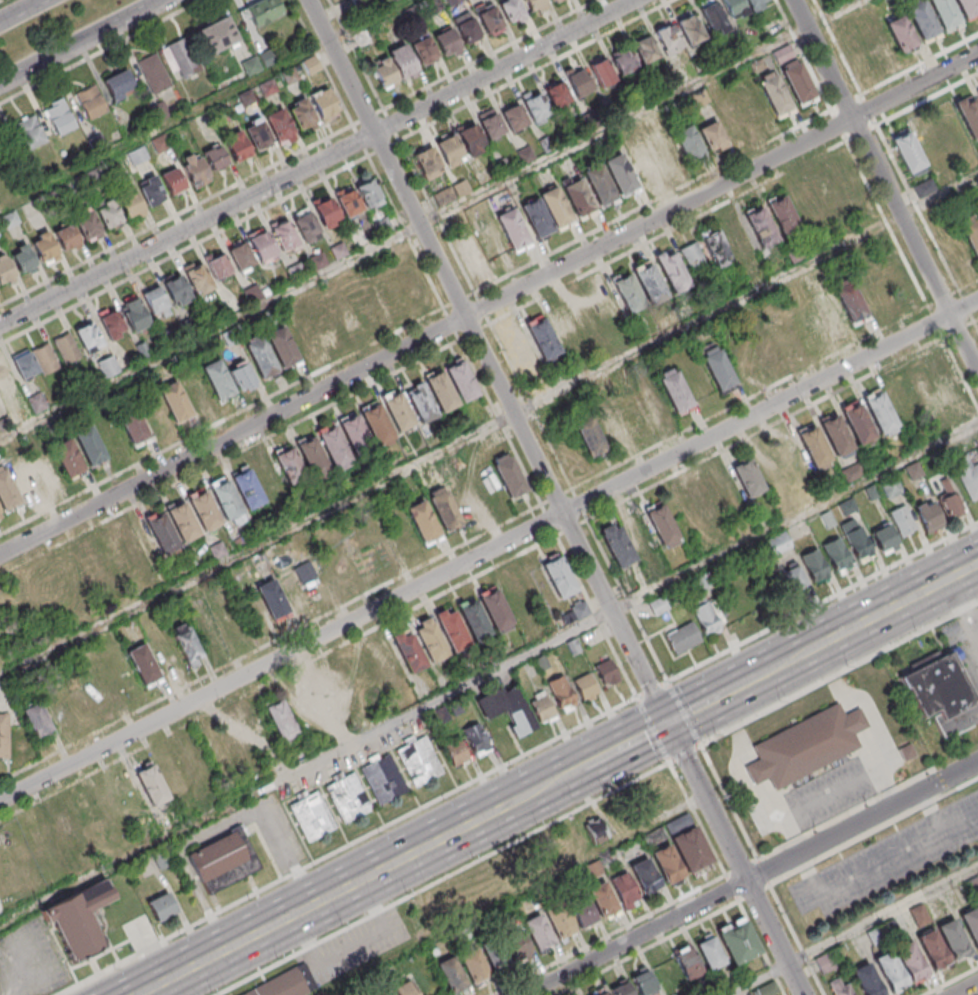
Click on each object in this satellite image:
road: (0, 0)
building: (754, 1)
building: (534, 5)
building: (737, 6)
building: (968, 9)
road: (21, 10)
building: (262, 12)
building: (947, 16)
building: (713, 17)
building: (924, 26)
building: (466, 29)
building: (693, 30)
building: (899, 33)
building: (218, 35)
road: (81, 41)
building: (446, 42)
building: (877, 43)
building: (647, 47)
building: (423, 50)
road: (100, 51)
building: (783, 55)
building: (625, 58)
building: (182, 59)
road: (321, 62)
building: (309, 66)
building: (393, 67)
building: (153, 74)
building: (797, 79)
building: (581, 81)
building: (118, 85)
building: (775, 92)
building: (977, 92)
building: (558, 93)
building: (90, 103)
road: (204, 104)
building: (324, 104)
building: (537, 105)
building: (753, 107)
building: (303, 114)
building: (970, 114)
building: (515, 115)
building: (59, 118)
building: (731, 118)
building: (492, 122)
building: (282, 126)
building: (29, 133)
building: (260, 134)
building: (472, 135)
building: (712, 137)
building: (929, 140)
building: (689, 143)
building: (159, 144)
building: (240, 145)
building: (450, 146)
building: (664, 151)
building: (908, 153)
building: (217, 156)
building: (428, 157)
building: (642, 162)
road: (317, 163)
road: (896, 165)
building: (197, 168)
building: (621, 172)
building: (174, 180)
building: (849, 182)
building: (601, 183)
road: (885, 185)
building: (153, 191)
building: (450, 194)
building: (827, 194)
building: (358, 198)
building: (578, 198)
building: (132, 203)
road: (877, 203)
building: (556, 204)
building: (804, 204)
building: (326, 213)
building: (110, 214)
road: (176, 214)
building: (784, 214)
building: (538, 215)
road: (432, 220)
building: (89, 225)
building: (305, 226)
building: (762, 226)
building: (514, 227)
building: (971, 231)
building: (67, 235)
building: (284, 237)
building: (46, 246)
building: (261, 246)
building: (470, 248)
building: (716, 249)
building: (240, 255)
building: (24, 259)
building: (220, 264)
building: (6, 268)
building: (673, 271)
building: (197, 275)
building: (650, 282)
building: (176, 286)
building: (872, 288)
building: (628, 292)
building: (154, 300)
building: (851, 300)
road: (489, 305)
building: (358, 309)
building: (133, 313)
building: (828, 313)
building: (585, 318)
building: (110, 323)
building: (325, 324)
building: (564, 327)
building: (88, 333)
building: (303, 336)
building: (784, 337)
building: (229, 338)
building: (542, 339)
building: (282, 346)
building: (67, 349)
building: (521, 352)
building: (764, 353)
building: (261, 357)
building: (45, 359)
building: (25, 363)
building: (107, 367)
building: (717, 368)
building: (6, 378)
building: (242, 378)
building: (218, 379)
building: (462, 380)
building: (442, 390)
building: (675, 390)
building: (924, 390)
building: (197, 391)
building: (951, 391)
building: (175, 401)
building: (421, 401)
building: (902, 402)
building: (652, 403)
building: (400, 410)
building: (880, 413)
building: (631, 414)
building: (377, 422)
building: (859, 422)
building: (133, 426)
building: (611, 428)
road: (489, 429)
building: (356, 433)
building: (836, 433)
building: (589, 434)
road: (528, 440)
building: (814, 444)
building: (334, 445)
building: (90, 446)
building: (314, 456)
building: (68, 458)
building: (289, 465)
building: (46, 467)
building: (770, 470)
building: (913, 470)
building: (851, 472)
building: (510, 475)
building: (268, 476)
building: (748, 477)
building: (968, 478)
building: (25, 480)
building: (248, 489)
building: (7, 493)
building: (948, 498)
building: (227, 499)
building: (704, 503)
building: (847, 507)
building: (446, 509)
building: (205, 510)
building: (928, 516)
road: (795, 518)
building: (423, 519)
building: (902, 520)
building: (184, 521)
building: (661, 522)
building: (163, 532)
road: (489, 532)
building: (639, 535)
building: (856, 538)
building: (884, 539)
building: (139, 542)
building: (778, 542)
building: (379, 545)
building: (618, 545)
road: (489, 551)
building: (837, 555)
building: (358, 556)
building: (814, 564)
building: (96, 565)
building: (336, 567)
building: (558, 576)
building: (793, 576)
building: (315, 579)
building: (294, 588)
building: (30, 595)
building: (516, 597)
building: (272, 600)
road: (822, 600)
road: (893, 607)
building: (495, 609)
building: (578, 609)
building: (705, 615)
building: (473, 619)
building: (451, 629)
building: (207, 630)
building: (682, 637)
building: (429, 639)
building: (186, 644)
building: (409, 650)
building: (387, 665)
road: (781, 665)
building: (143, 666)
building: (606, 672)
road: (839, 672)
road: (278, 680)
building: (99, 687)
building: (344, 687)
building: (585, 687)
road: (737, 687)
road: (651, 689)
building: (942, 692)
building: (561, 693)
building: (79, 697)
building: (323, 698)
building: (57, 708)
building: (456, 708)
building: (508, 708)
building: (541, 708)
road: (694, 709)
building: (302, 710)
road: (683, 711)
building: (443, 716)
building: (280, 717)
building: (36, 719)
traffic signals: (668, 724)
road: (651, 729)
building: (4, 736)
building: (477, 742)
building: (238, 743)
road: (626, 745)
building: (807, 746)
building: (457, 753)
road: (684, 753)
building: (420, 762)
building: (195, 765)
road: (306, 770)
building: (384, 780)
road: (558, 780)
building: (152, 783)
building: (348, 798)
road: (735, 815)
building: (313, 817)
road: (696, 817)
road: (863, 821)
building: (65, 828)
building: (596, 831)
road: (874, 833)
building: (688, 843)
road: (345, 846)
building: (162, 858)
parking lot: (890, 859)
building: (223, 860)
building: (665, 864)
building: (593, 868)
building: (643, 875)
road: (439, 878)
building: (973, 884)
building: (622, 888)
road: (336, 894)
road: (513, 895)
building: (600, 897)
building: (162, 907)
building: (579, 908)
building: (920, 915)
building: (78, 918)
building: (556, 919)
building: (972, 922)
road: (854, 930)
building: (536, 931)
road: (606, 934)
building: (875, 935)
road: (636, 938)
road: (774, 938)
building: (954, 938)
building: (738, 941)
road: (796, 941)
building: (515, 944)
road: (644, 947)
road: (760, 947)
building: (934, 949)
building: (708, 953)
building: (912, 960)
building: (825, 962)
building: (686, 963)
building: (471, 965)
building: (891, 971)
building: (449, 974)
building: (868, 980)
road: (950, 980)
building: (641, 982)
building: (285, 984)
building: (839, 987)
building: (403, 988)
building: (619, 989)
building: (766, 989)
road: (967, 989)
building: (385, 993)
building: (601, 993)

